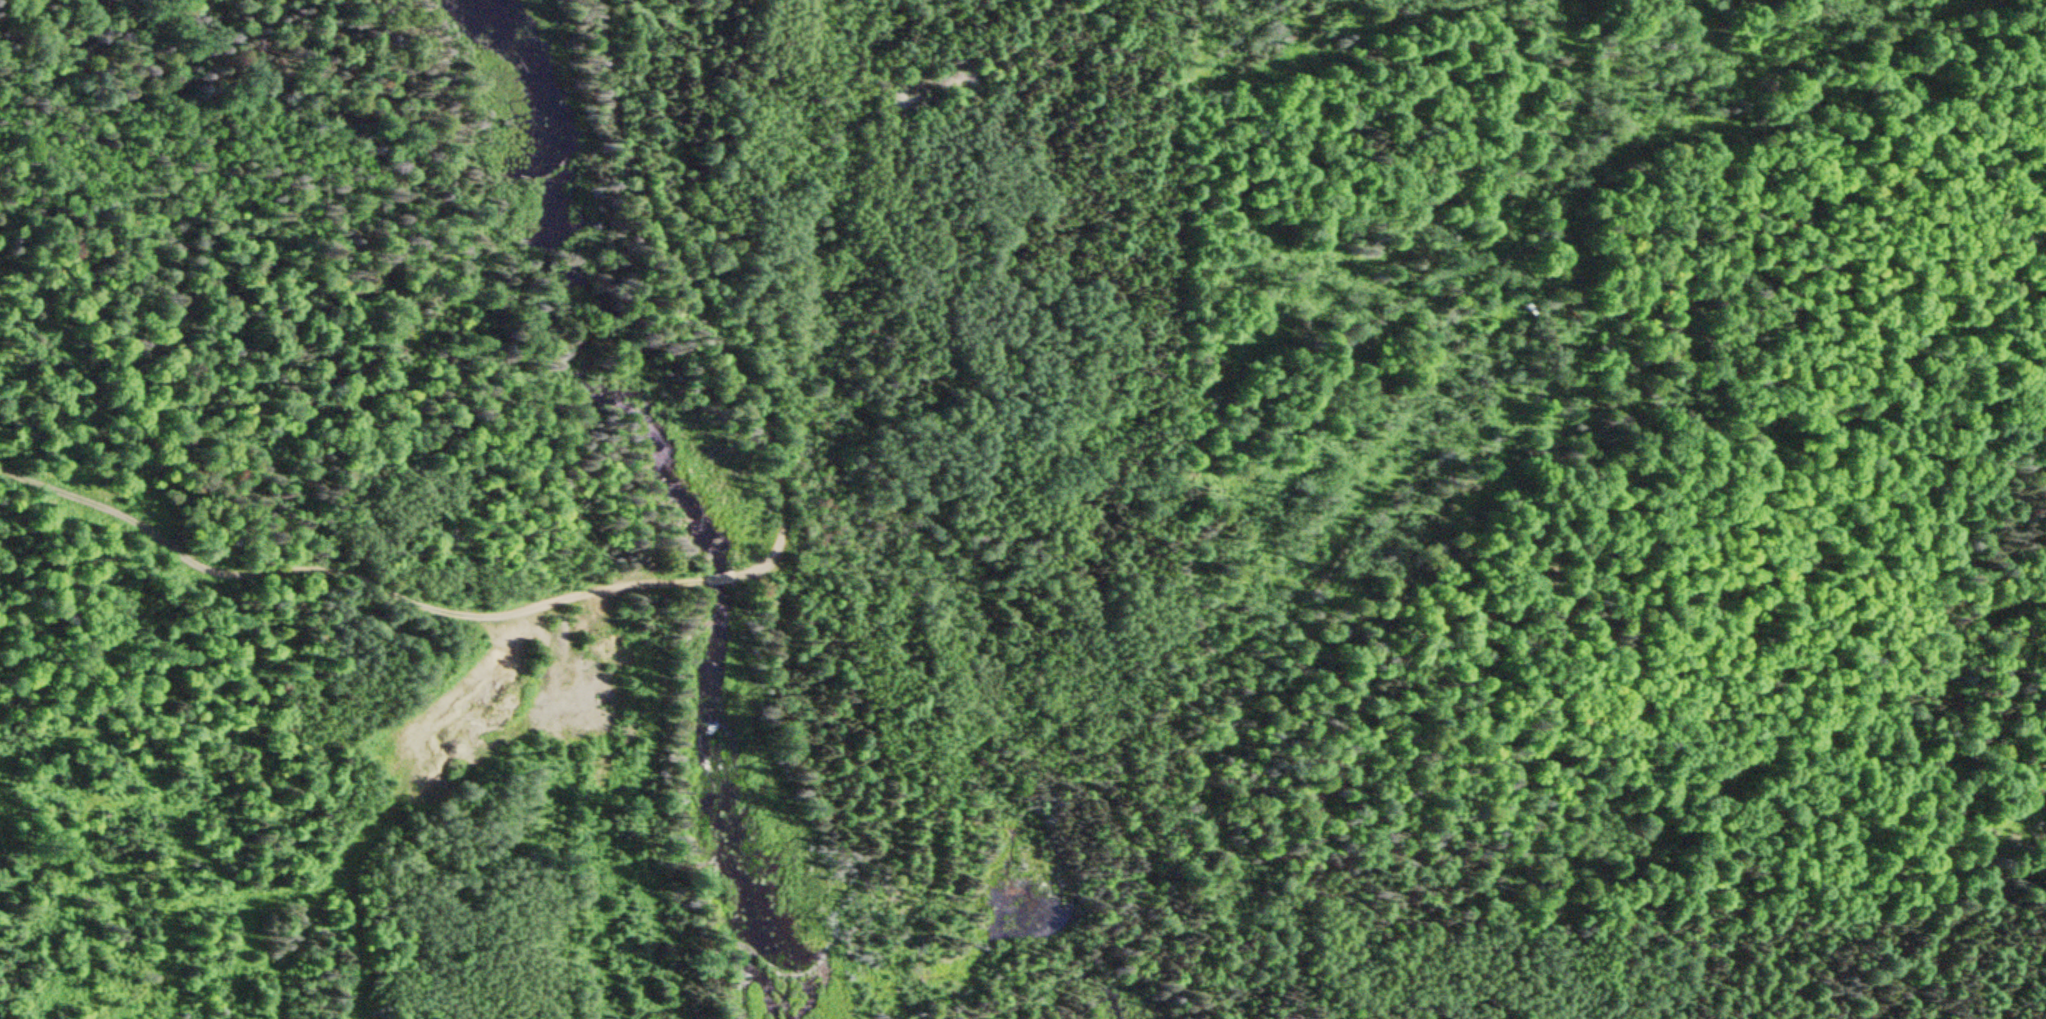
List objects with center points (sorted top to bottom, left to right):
river: (531, 129)
road: (747, 374)
river: (712, 633)

